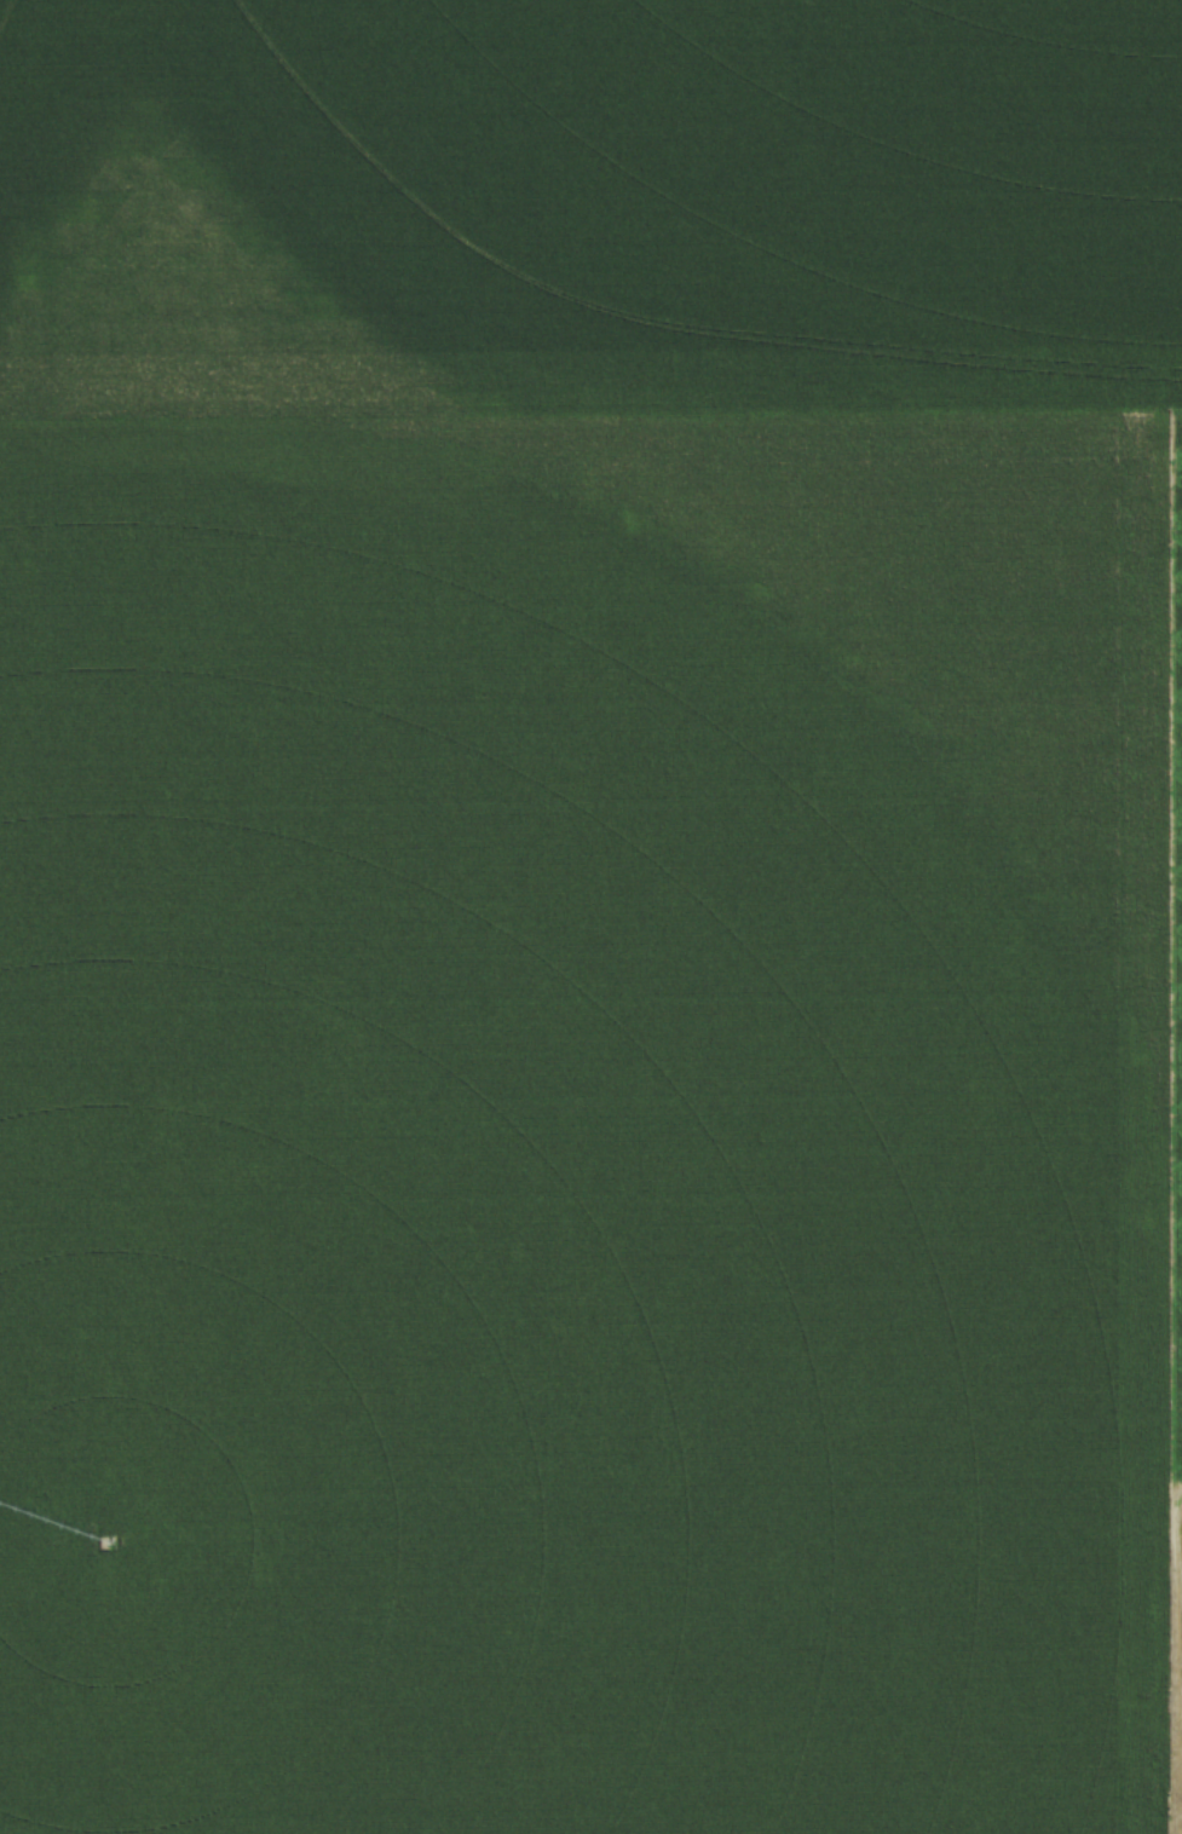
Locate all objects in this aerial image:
crop: (590, 917)

